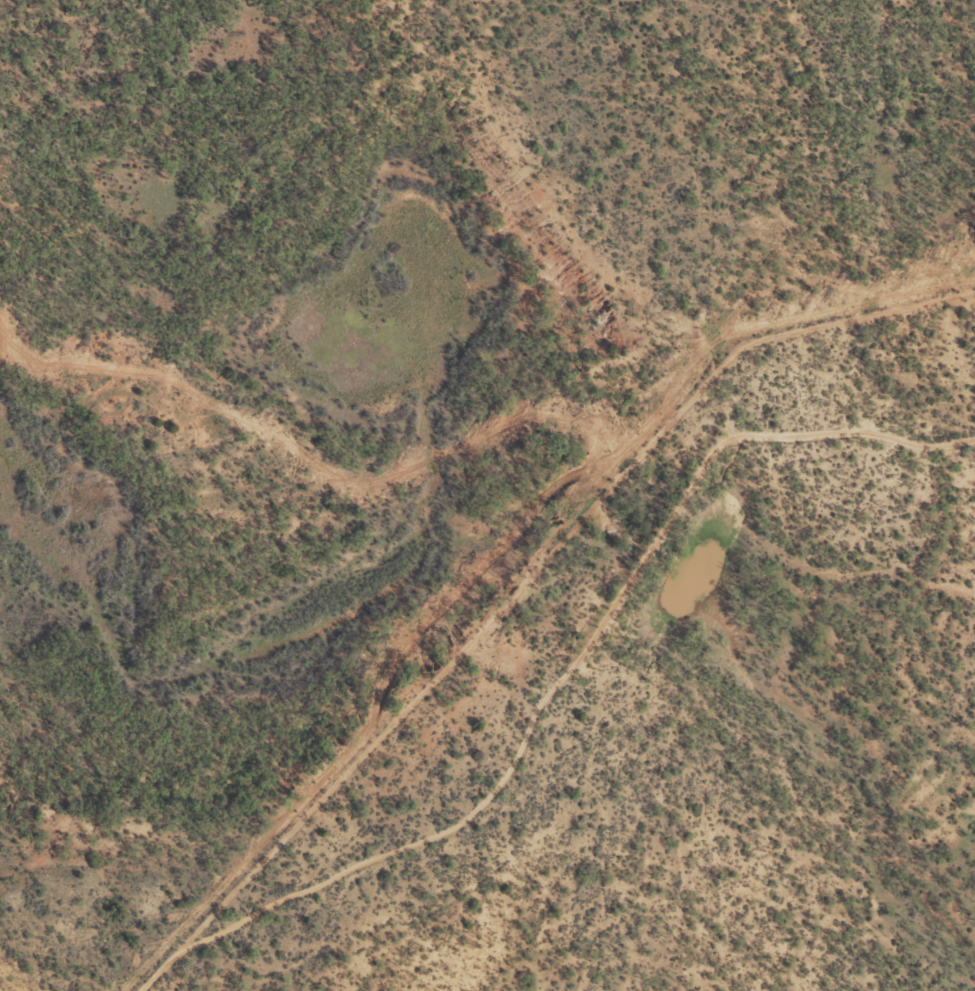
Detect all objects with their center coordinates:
road: (545, 671)

